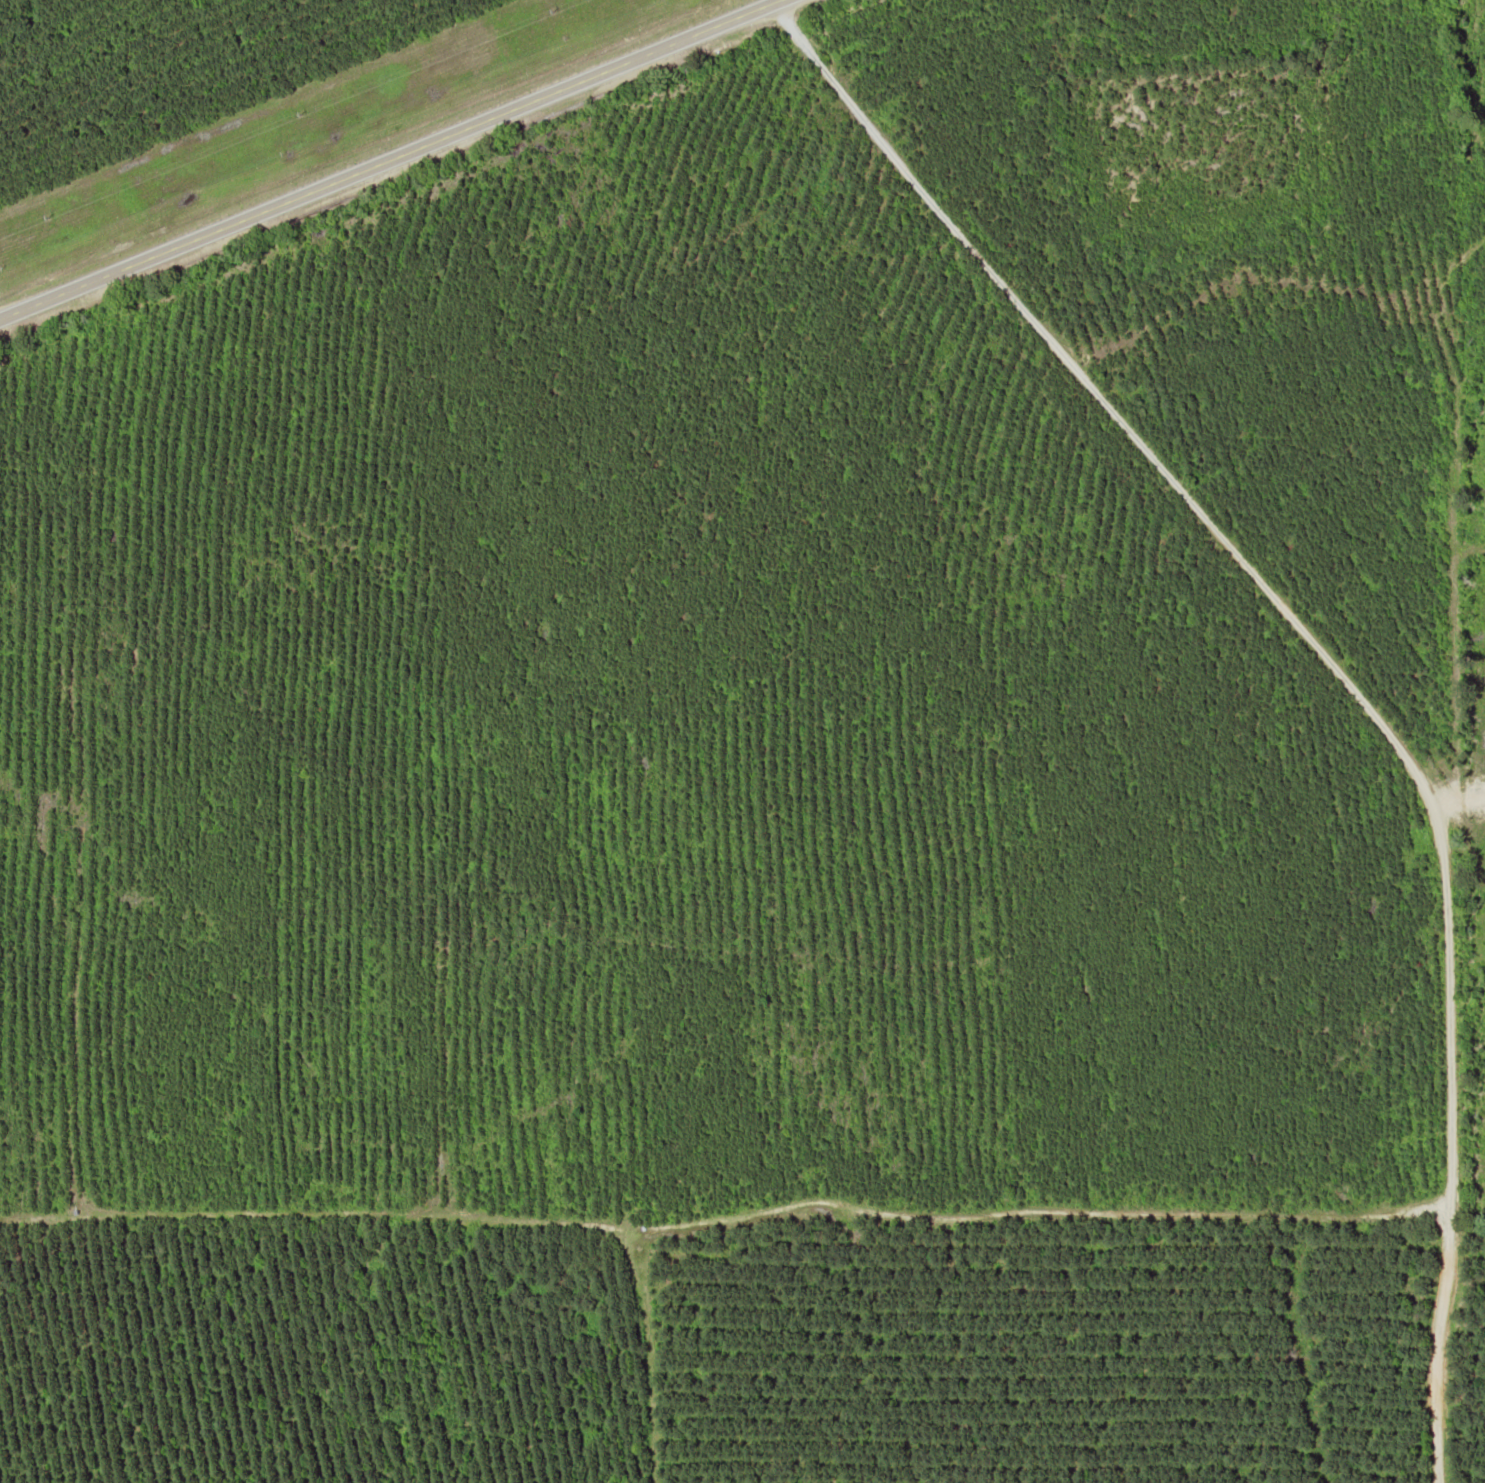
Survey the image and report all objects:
road: (389, 158)

